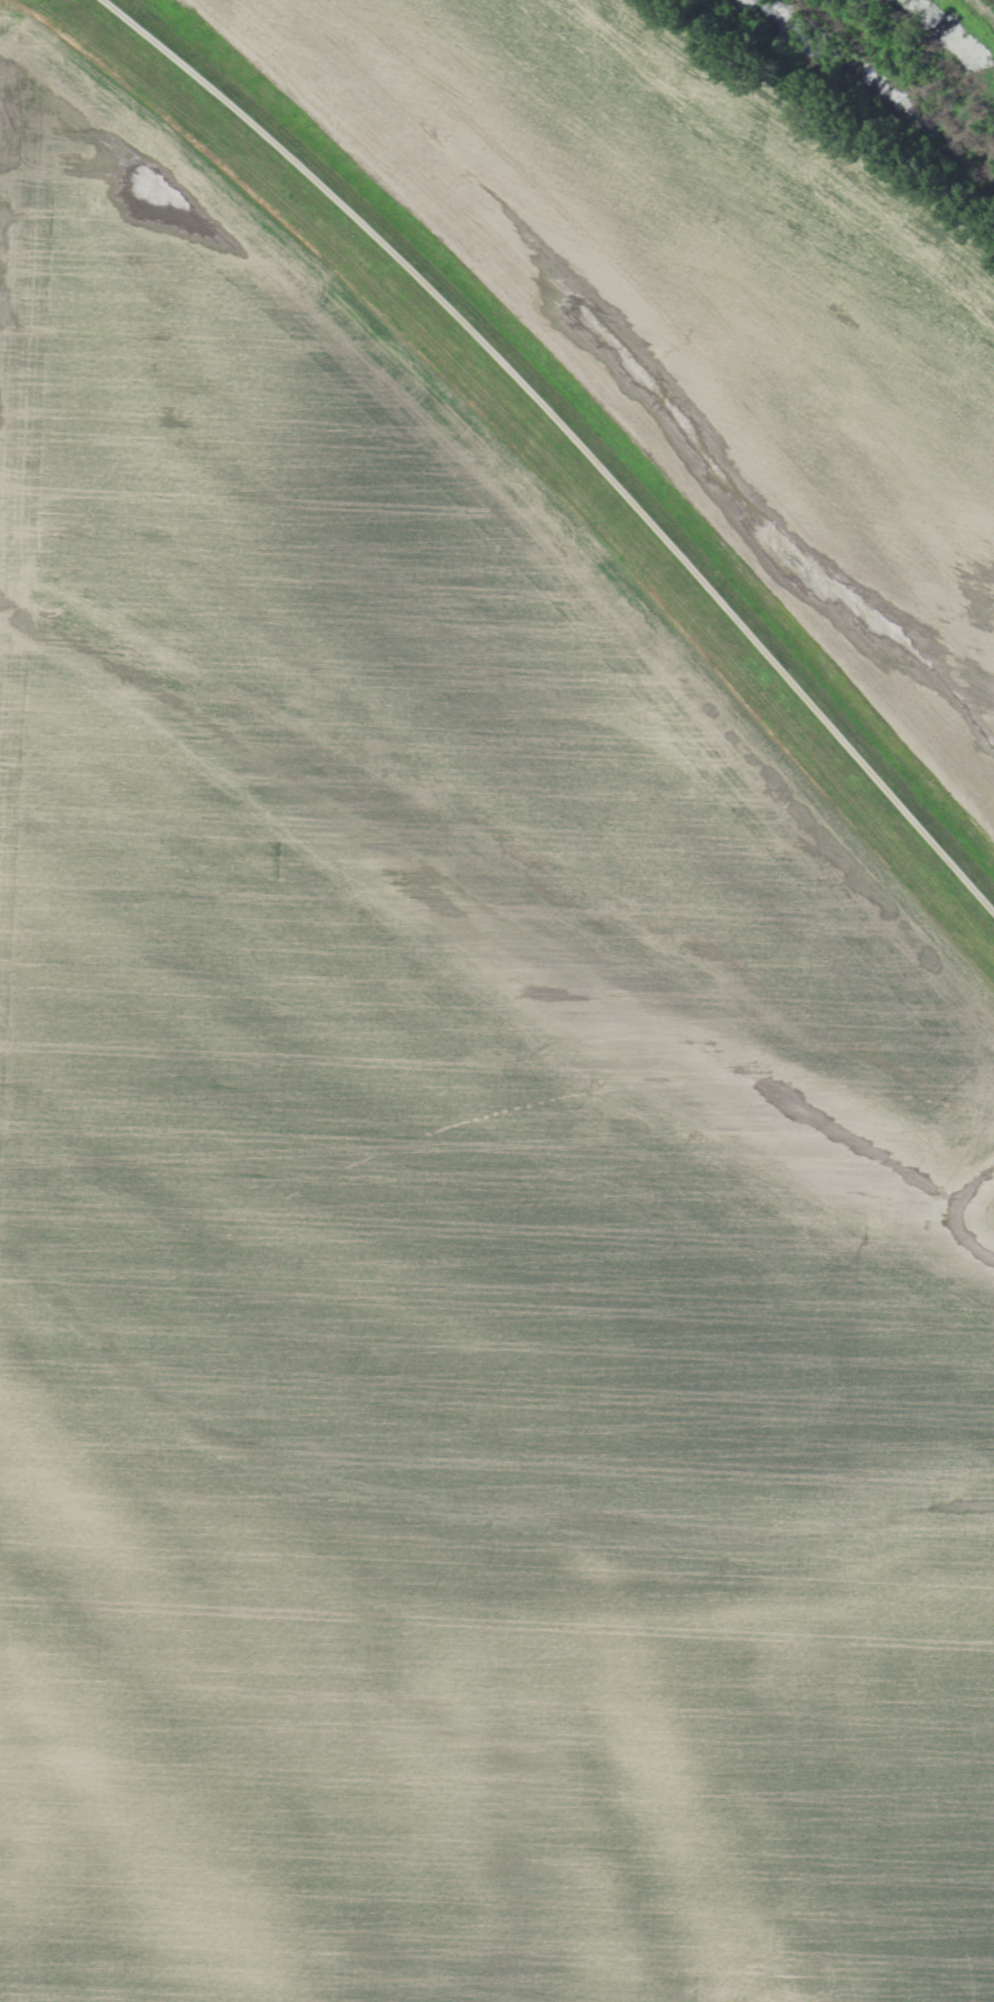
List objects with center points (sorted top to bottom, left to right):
crop: (709, 302)
road: (572, 431)
crop: (442, 1198)

